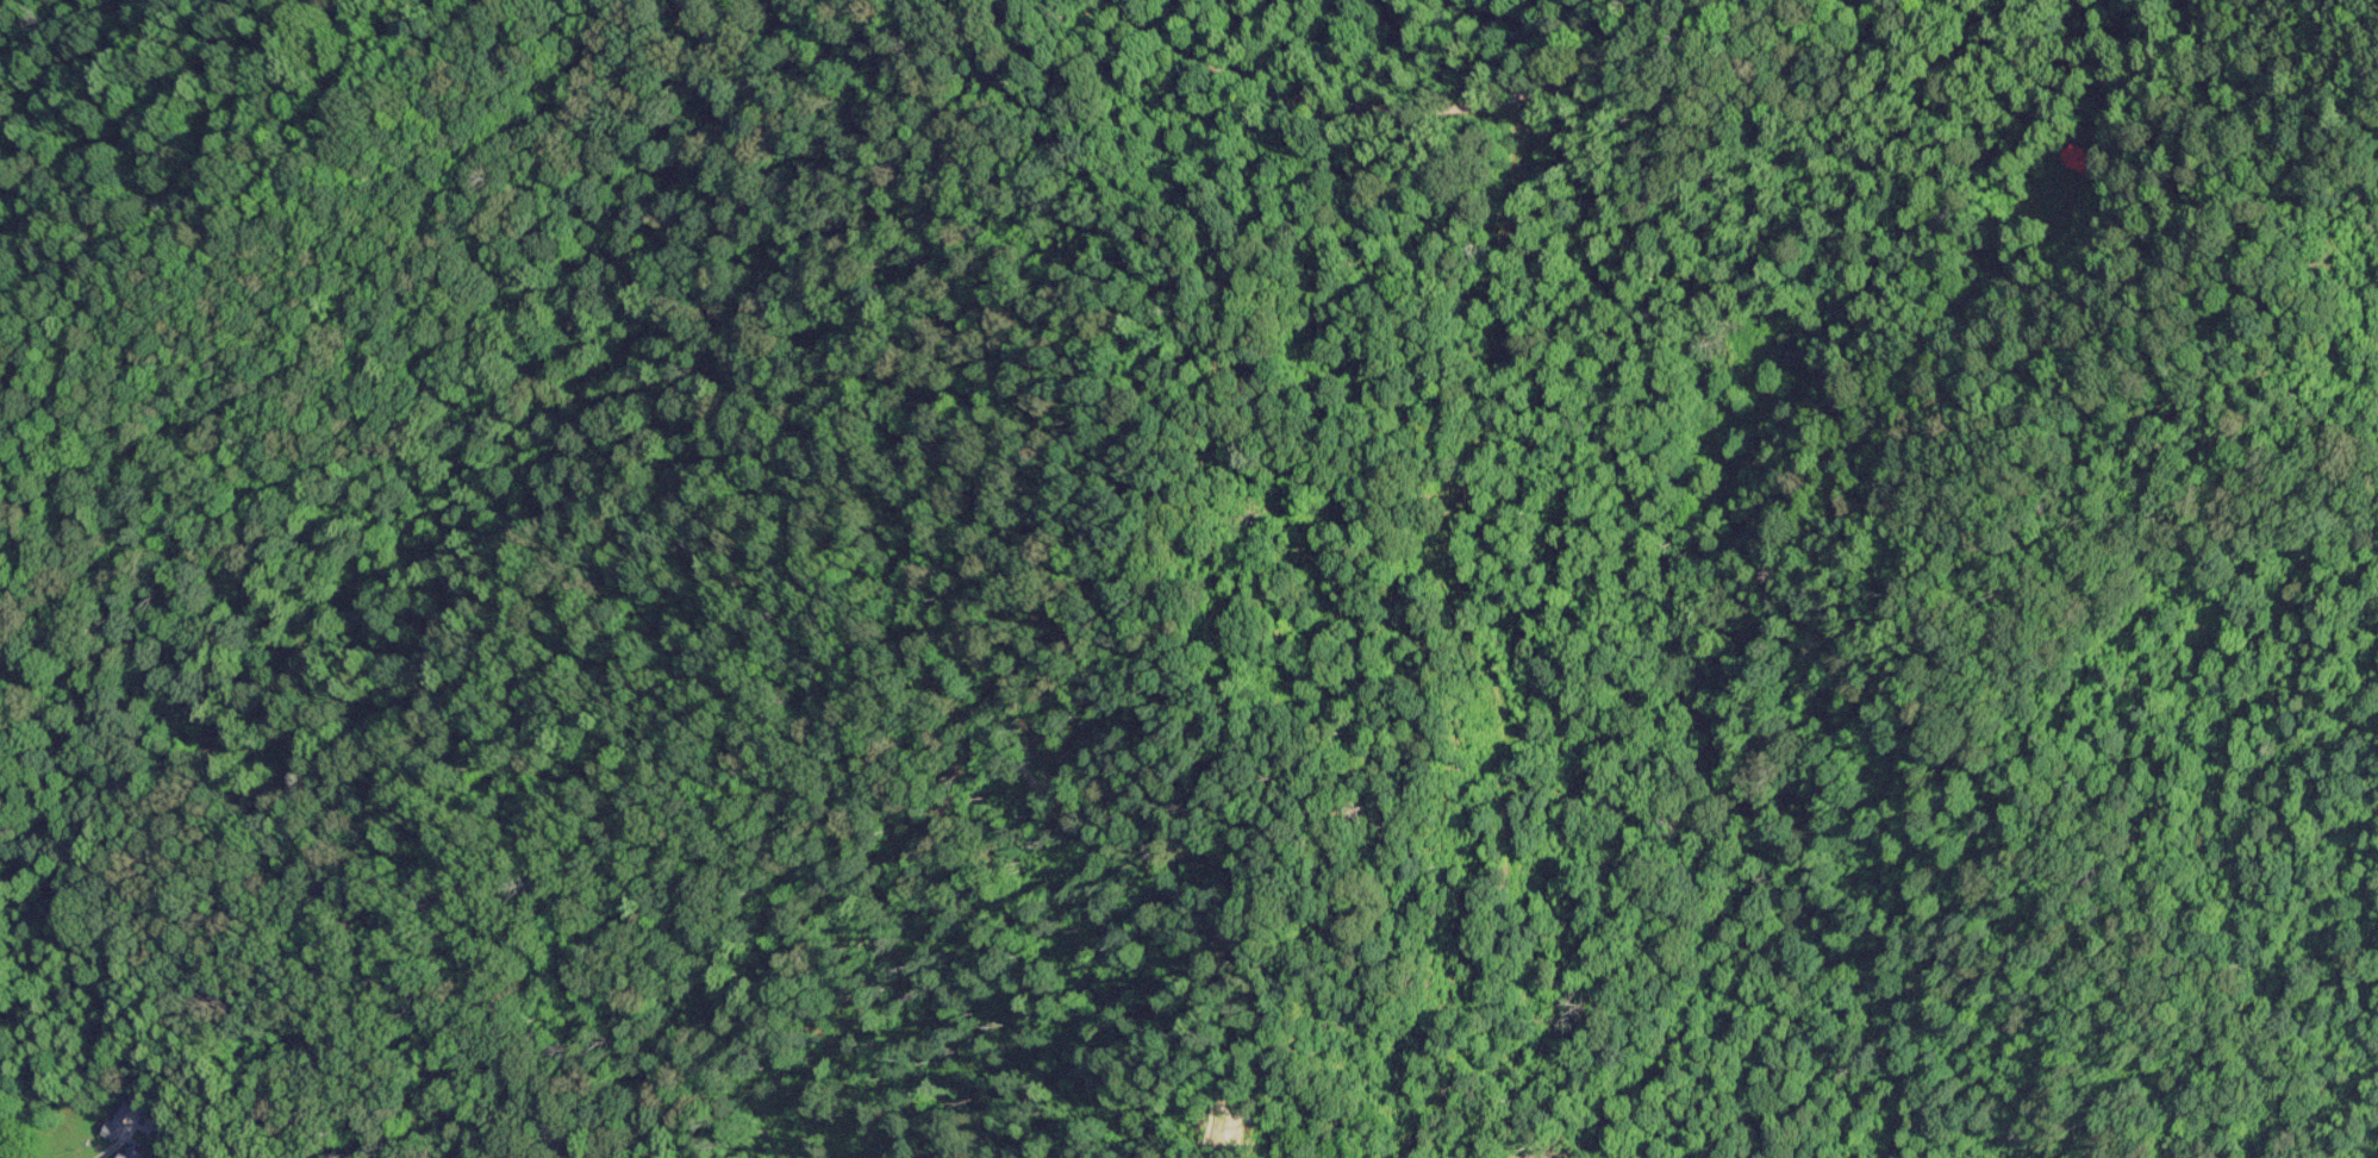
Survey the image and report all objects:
building: (2081, 155)

